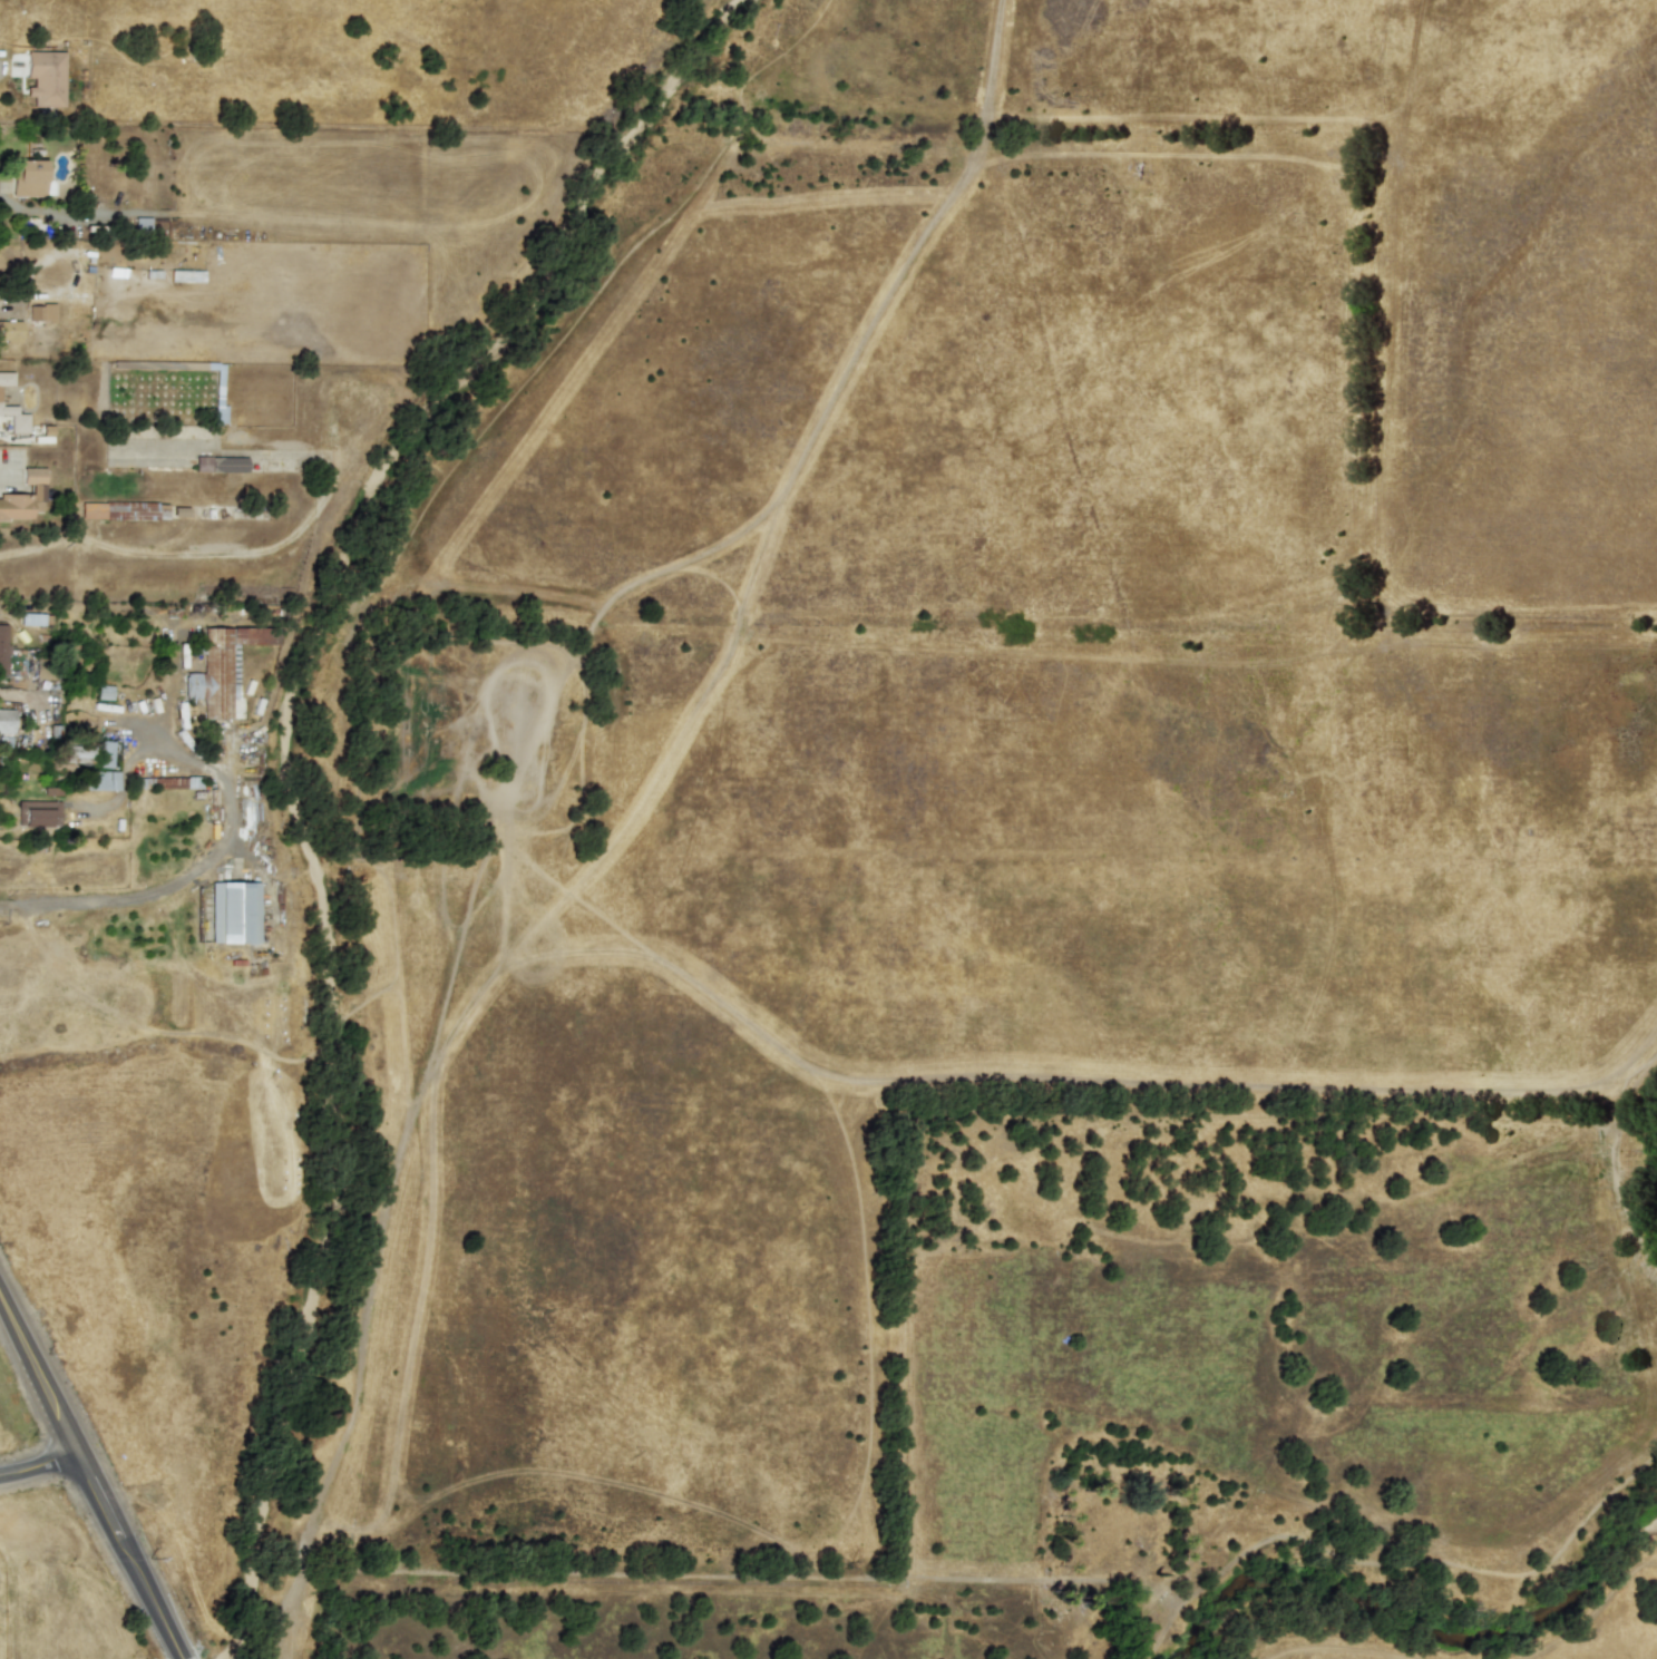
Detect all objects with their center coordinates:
building: (45, 77)
building: (28, 177)
building: (40, 312)
building: (9, 331)
building: (6, 378)
building: (14, 419)
building: (218, 463)
building: (23, 496)
building: (103, 509)
building: (2, 647)
building: (222, 666)
building: (104, 692)
road: (20, 694)
building: (6, 720)
building: (79, 753)
building: (104, 753)
building: (100, 780)
building: (173, 782)
building: (38, 812)
road: (221, 840)
road: (252, 865)
road: (316, 871)
crop: (997, 886)
building: (233, 911)
road: (38, 1375)
road: (38, 1463)
road: (126, 1554)
road: (664, 1573)

